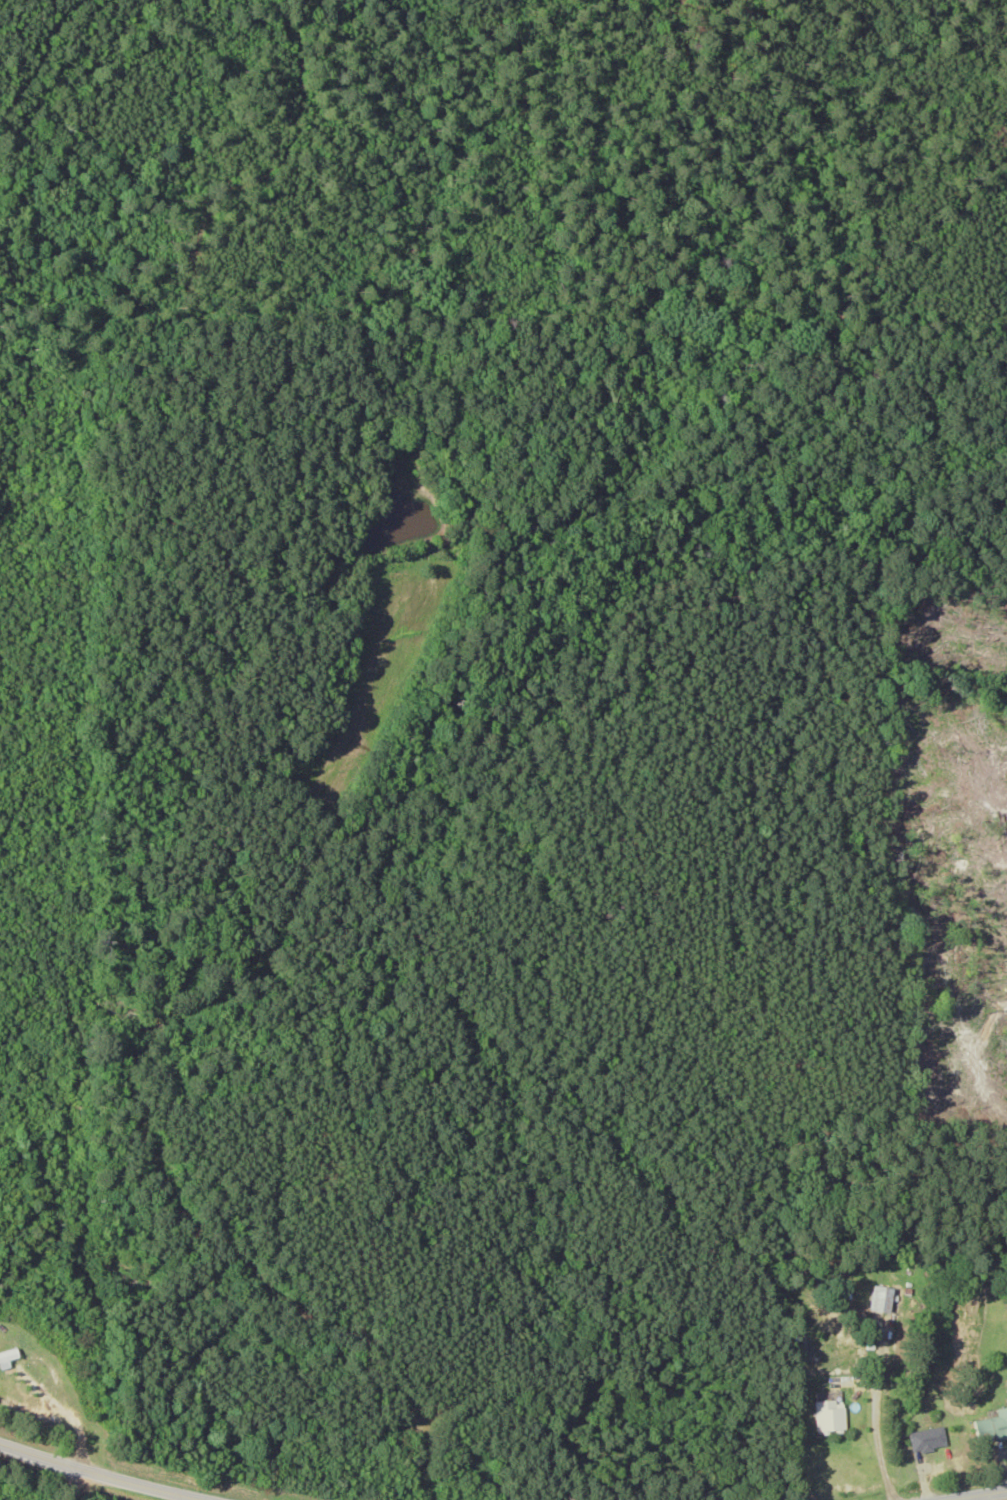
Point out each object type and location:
building: (880, 1299)
building: (827, 1412)
building: (991, 1427)
building: (928, 1438)
road: (104, 1473)
road: (980, 1495)

